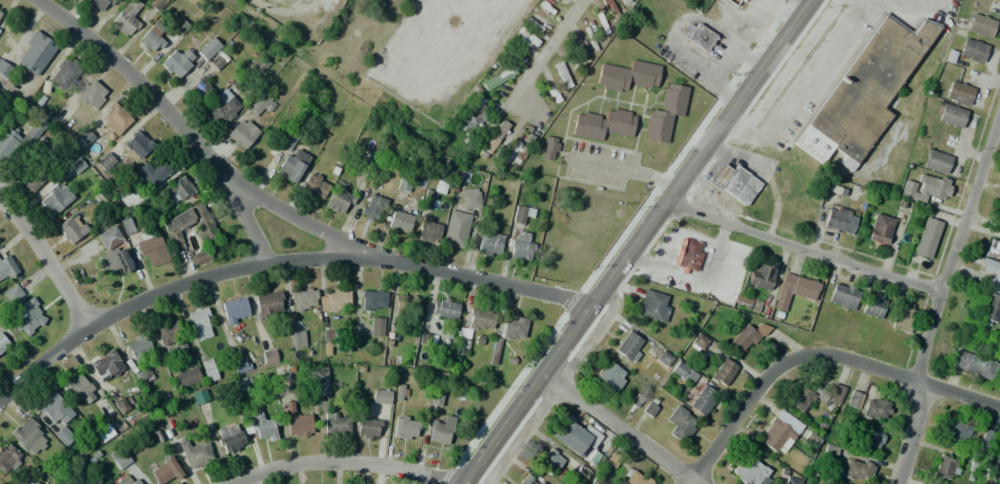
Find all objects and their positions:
building: (999, 0)
building: (624, 1)
building: (735, 2)
building: (156, 3)
building: (101, 4)
building: (609, 7)
building: (0, 13)
building: (125, 18)
building: (603, 24)
building: (533, 25)
building: (980, 26)
building: (527, 35)
building: (699, 36)
building: (151, 40)
building: (209, 48)
building: (973, 49)
building: (579, 51)
building: (35, 55)
building: (178, 61)
building: (216, 63)
building: (5, 69)
building: (65, 74)
building: (561, 74)
building: (642, 74)
building: (501, 76)
building: (612, 77)
building: (199, 90)
building: (863, 91)
building: (959, 93)
building: (91, 94)
building: (673, 99)
building: (258, 106)
building: (469, 106)
building: (222, 108)
building: (948, 114)
road: (170, 115)
building: (115, 118)
building: (470, 120)
building: (618, 122)
building: (657, 125)
building: (588, 126)
building: (242, 133)
building: (18, 137)
building: (83, 139)
building: (494, 139)
building: (138, 144)
building: (549, 148)
building: (291, 157)
building: (105, 161)
building: (936, 161)
building: (152, 172)
building: (32, 180)
building: (734, 184)
building: (315, 185)
building: (924, 188)
building: (177, 189)
building: (55, 197)
building: (470, 198)
building: (337, 200)
building: (372, 209)
building: (521, 213)
building: (998, 216)
road: (299, 218)
building: (399, 219)
building: (839, 220)
building: (126, 226)
building: (72, 228)
building: (456, 228)
building: (429, 229)
building: (880, 229)
building: (209, 234)
building: (927, 237)
road: (631, 240)
building: (490, 242)
building: (521, 245)
road: (799, 246)
building: (992, 247)
building: (151, 248)
building: (111, 252)
building: (687, 255)
building: (199, 256)
road: (277, 261)
road: (47, 262)
building: (7, 268)
building: (760, 276)
building: (794, 289)
building: (990, 291)
building: (843, 295)
road: (938, 295)
building: (303, 299)
building: (334, 299)
building: (373, 300)
building: (268, 303)
building: (407, 304)
building: (873, 304)
building: (654, 305)
building: (444, 308)
building: (23, 310)
building: (235, 310)
building: (901, 316)
building: (480, 319)
building: (200, 324)
building: (377, 326)
building: (513, 327)
building: (747, 336)
building: (328, 338)
building: (170, 339)
building: (294, 339)
building: (699, 341)
building: (3, 343)
building: (460, 345)
building: (629, 347)
building: (139, 348)
building: (494, 351)
road: (817, 354)
building: (269, 357)
building: (664, 359)
building: (973, 364)
building: (106, 365)
building: (209, 370)
building: (684, 372)
building: (723, 372)
building: (185, 377)
building: (611, 377)
building: (143, 378)
building: (321, 381)
building: (79, 388)
building: (401, 392)
building: (835, 393)
building: (381, 396)
building: (436, 397)
building: (801, 398)
building: (703, 400)
building: (121, 406)
building: (867, 406)
building: (55, 409)
building: (103, 409)
building: (649, 409)
building: (296, 421)
building: (679, 423)
building: (336, 424)
building: (260, 425)
building: (406, 427)
road: (618, 427)
building: (368, 428)
building: (441, 430)
building: (958, 433)
building: (775, 434)
building: (28, 436)
building: (63, 436)
building: (576, 436)
building: (230, 438)
building: (869, 439)
building: (986, 440)
building: (996, 452)
building: (195, 454)
building: (7, 457)
building: (120, 457)
road: (344, 461)
building: (550, 461)
building: (979, 467)
building: (854, 468)
building: (945, 468)
building: (165, 471)
building: (751, 472)
building: (576, 477)
building: (637, 478)
building: (76, 479)
building: (128, 479)
building: (528, 480)
building: (792, 480)
building: (595, 481)
building: (35, 483)

